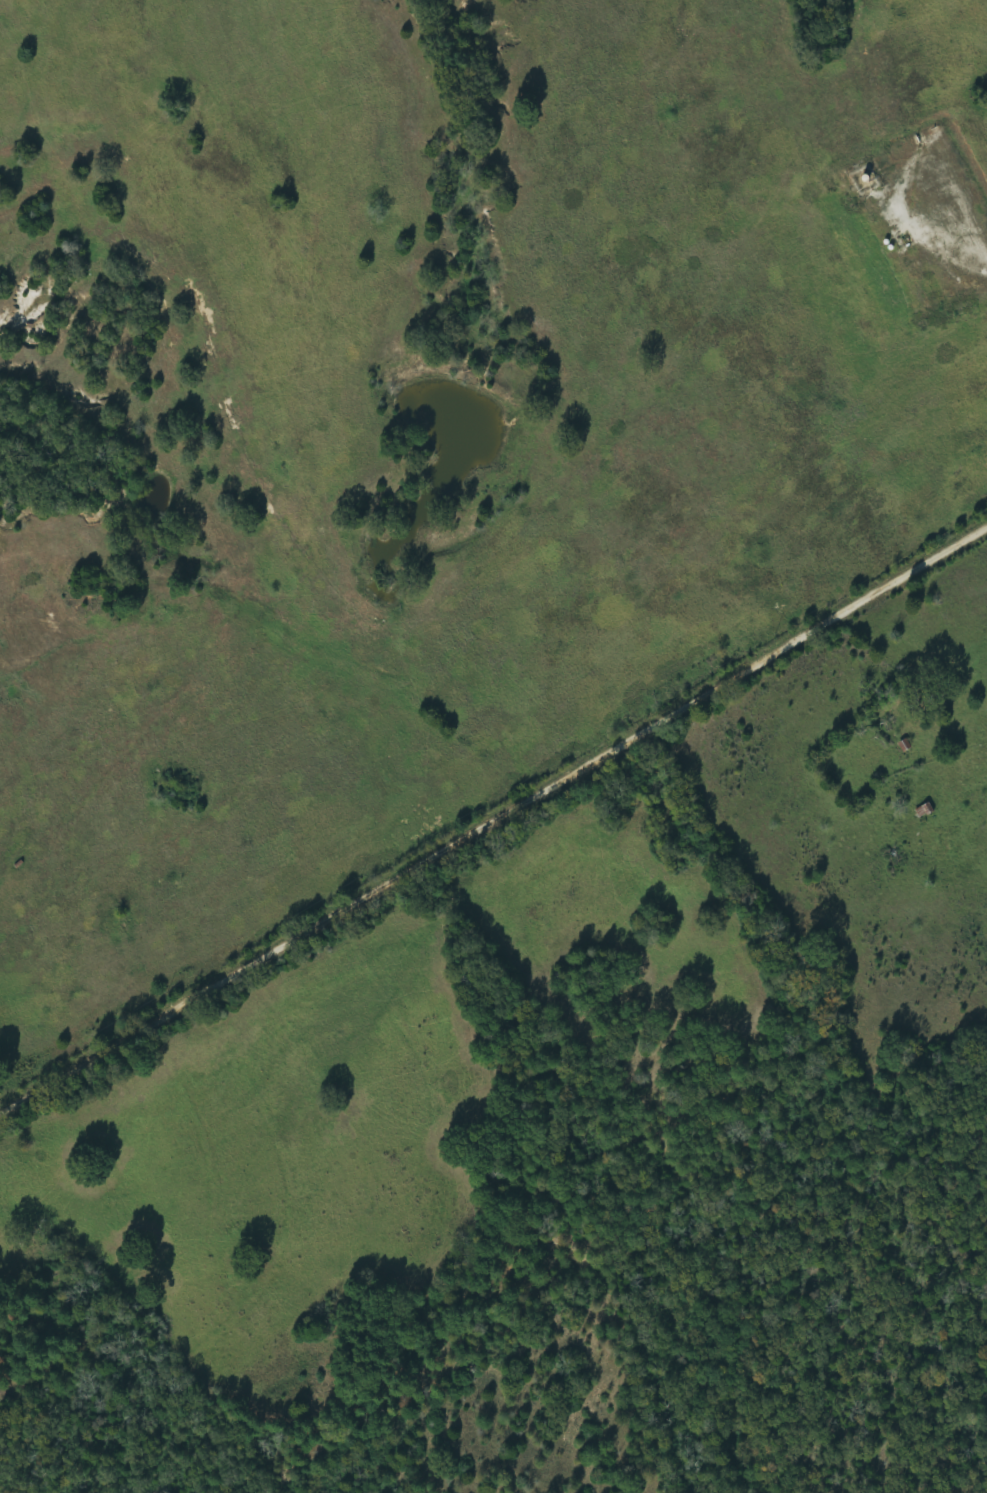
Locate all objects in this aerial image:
road: (494, 822)

